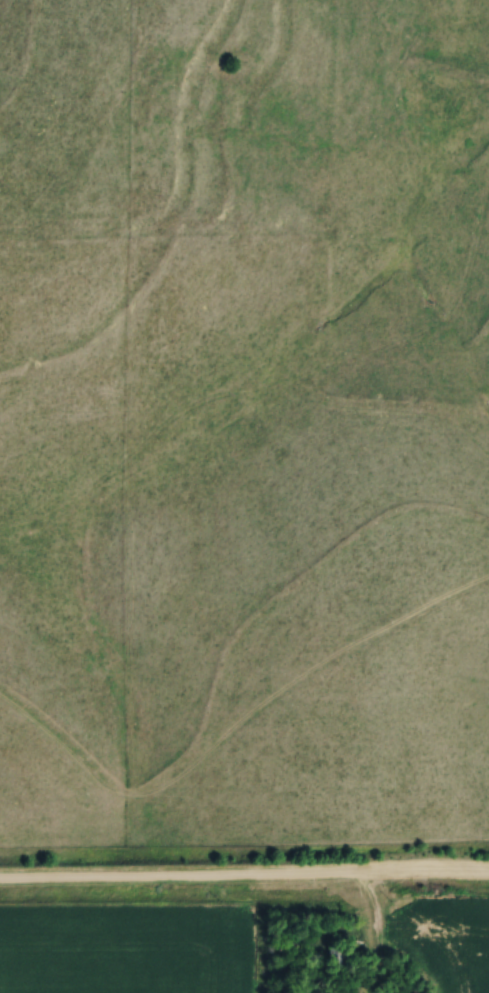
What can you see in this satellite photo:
road: (244, 874)
building: (330, 954)

